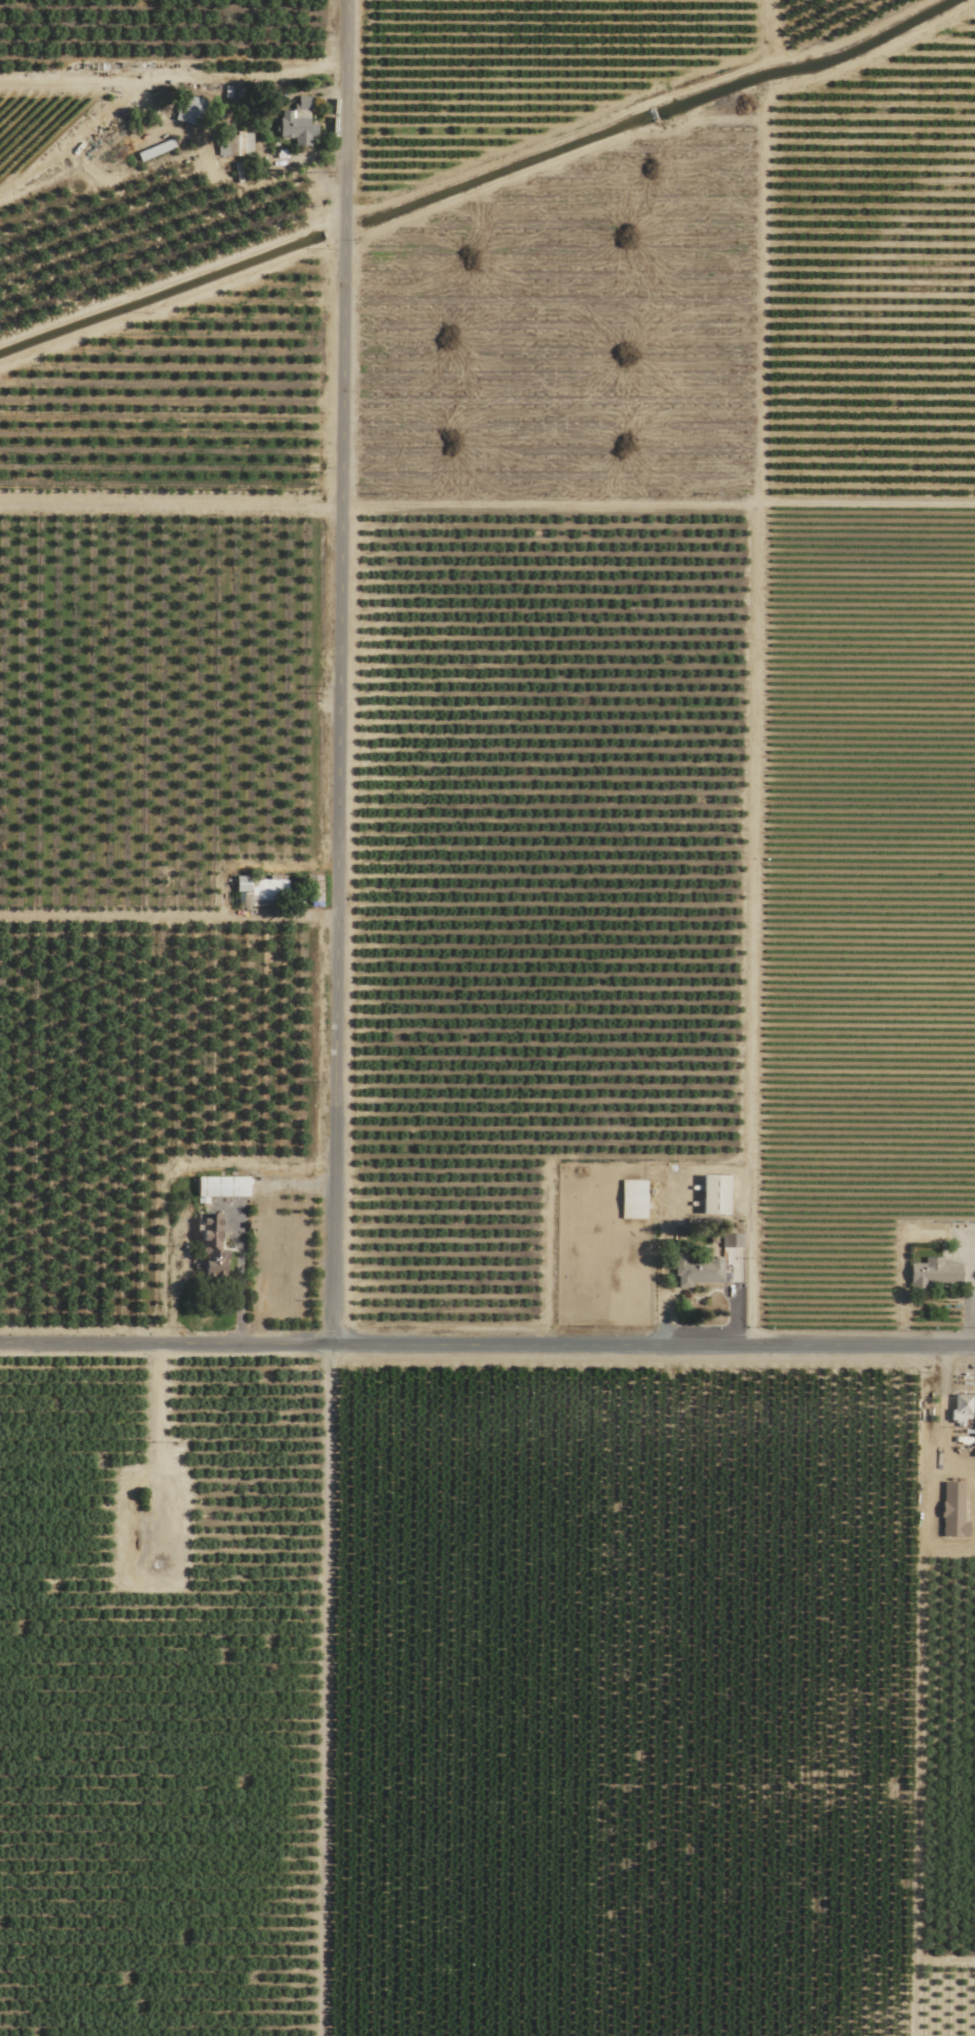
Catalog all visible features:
road: (196, 74)
building: (189, 109)
building: (297, 122)
building: (233, 144)
road: (657, 511)
road: (339, 673)
building: (262, 887)
road: (288, 919)
road: (756, 927)
crop: (487, 1018)
building: (220, 1185)
building: (714, 1193)
building: (632, 1198)
building: (209, 1247)
building: (697, 1270)
building: (934, 1272)
road: (239, 1294)
road: (487, 1348)
building: (960, 1407)
road: (933, 1470)
road: (324, 1692)

